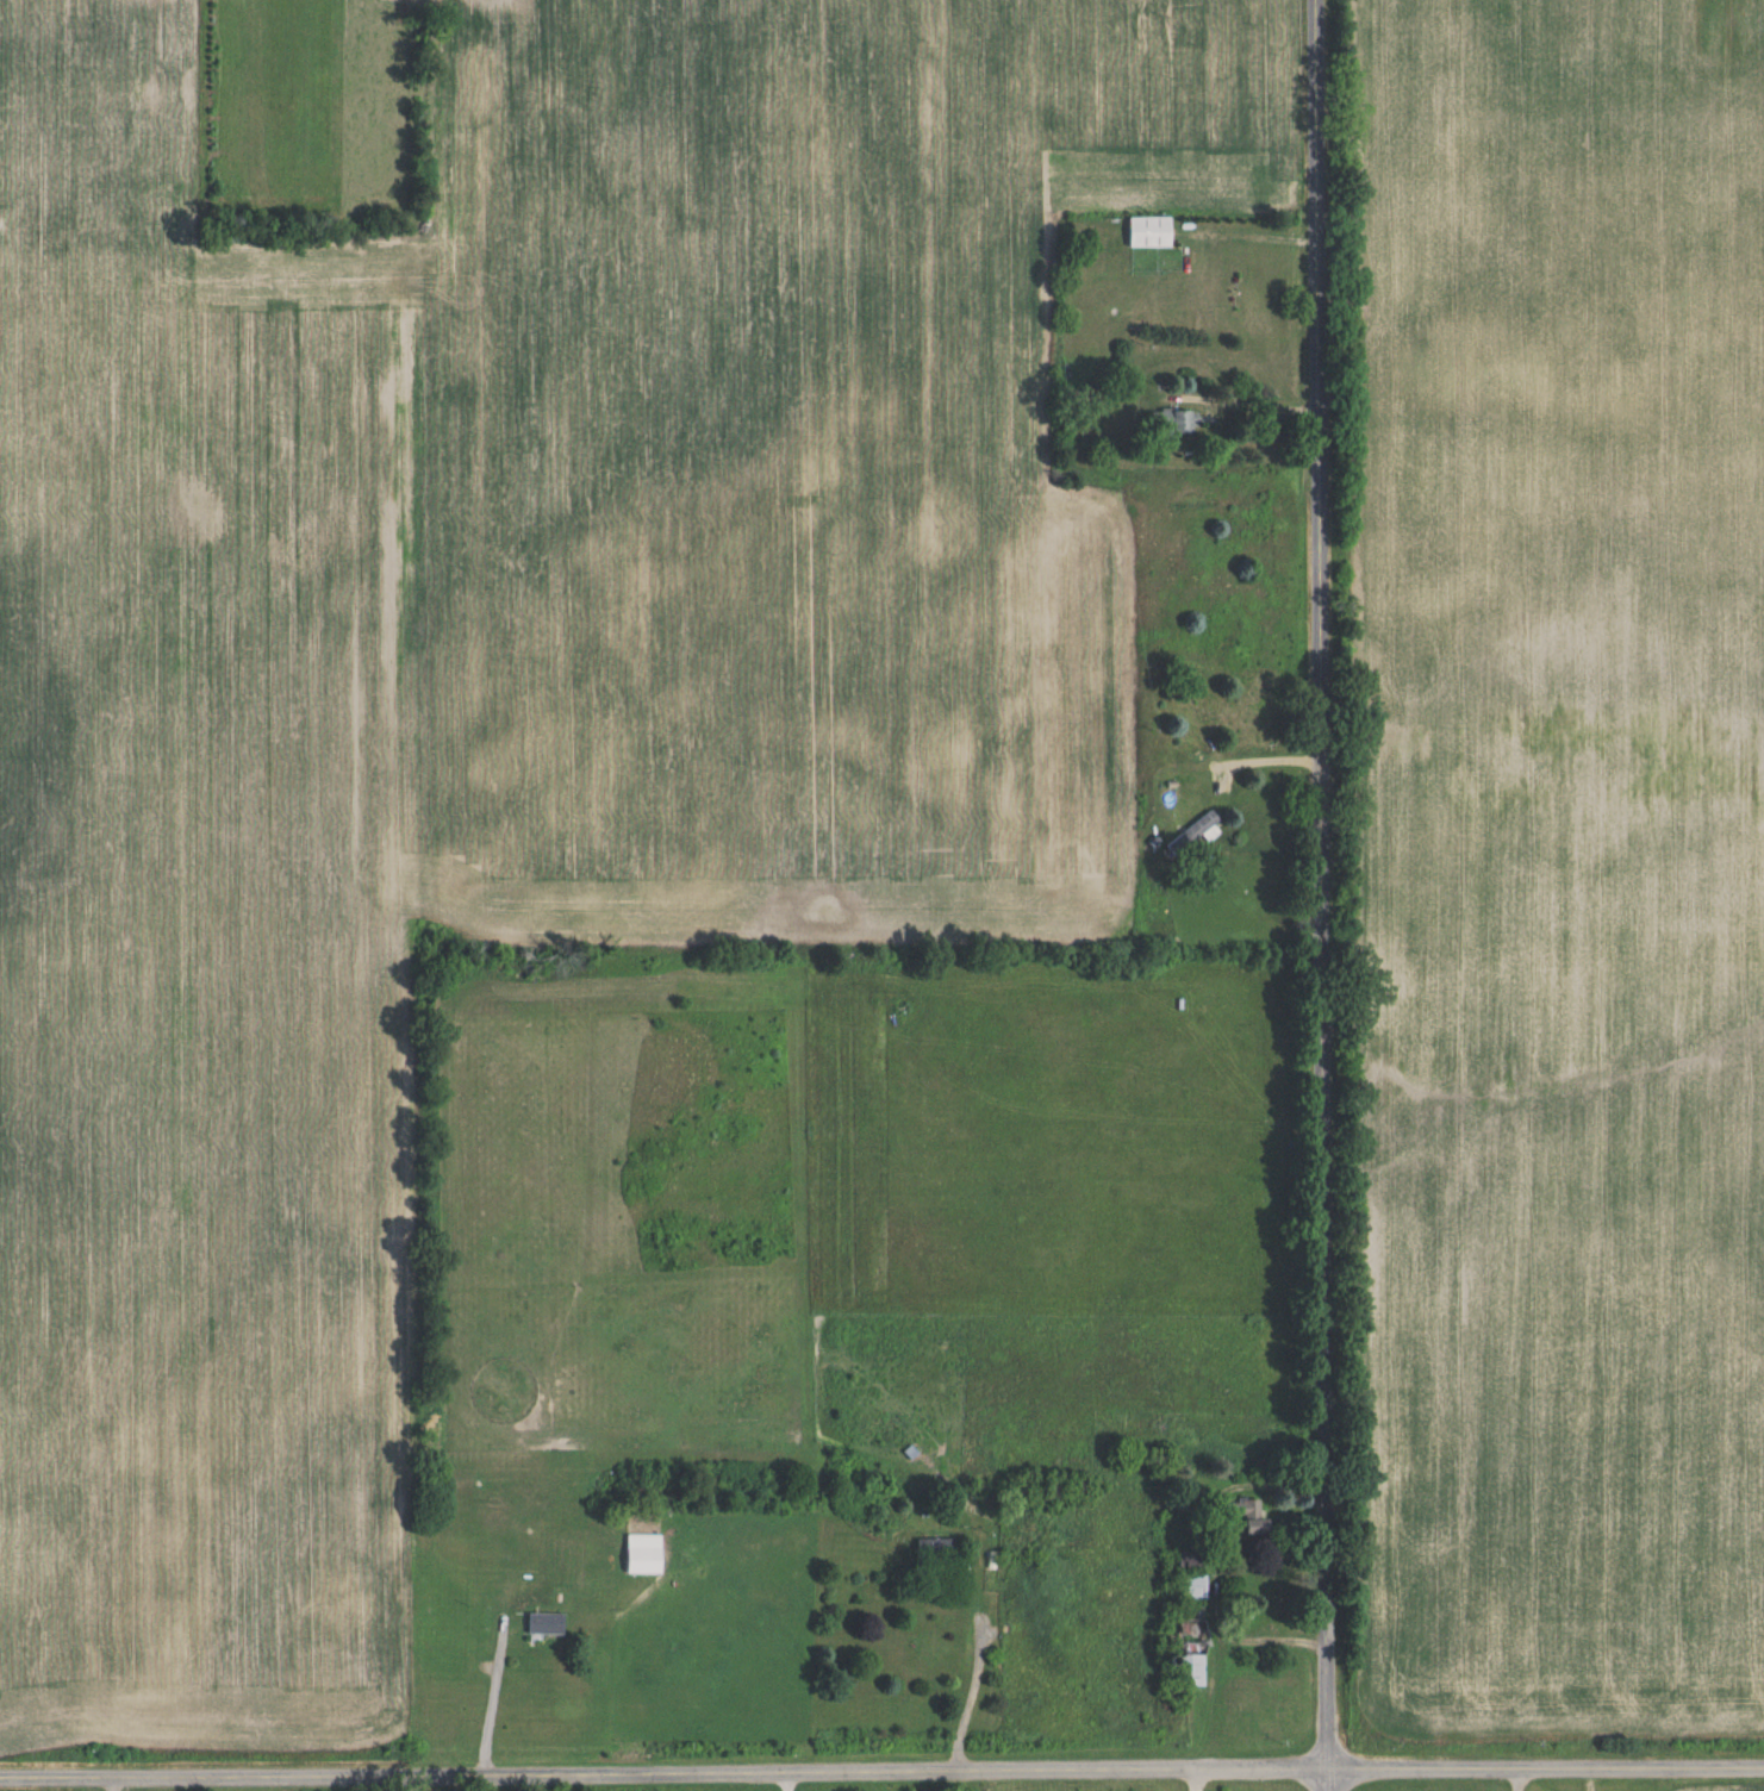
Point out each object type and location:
building: (1149, 233)
road: (1242, 402)
building: (1176, 422)
road: (1253, 757)
building: (1195, 832)
road: (1323, 894)
building: (1254, 1521)
building: (936, 1550)
building: (1197, 1586)
building: (546, 1624)
building: (1197, 1636)
road: (971, 1692)
road: (488, 1706)
road: (881, 1778)
road: (1503, 1783)

